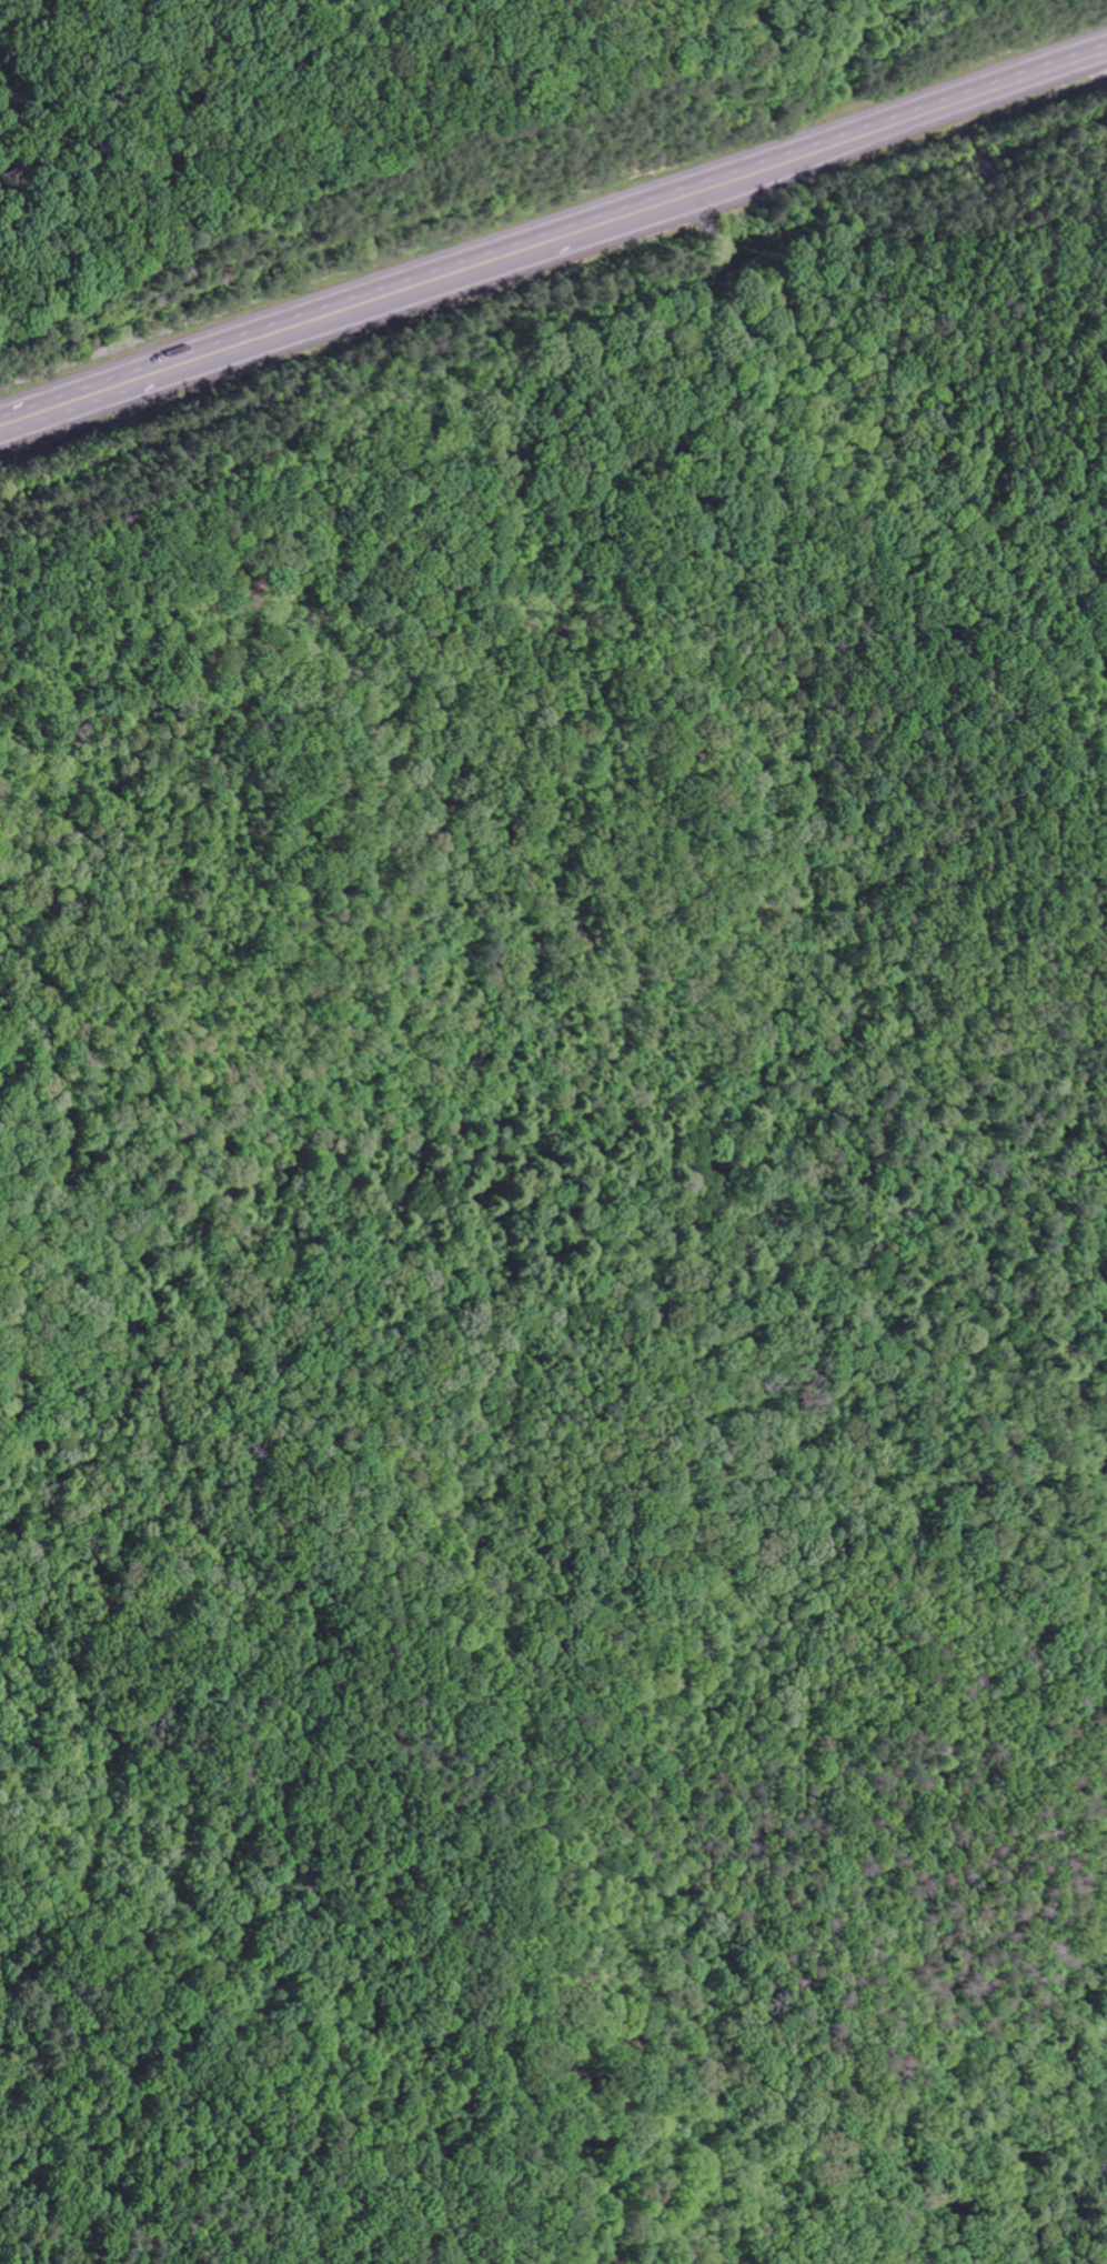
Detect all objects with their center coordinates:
road: (552, 236)

